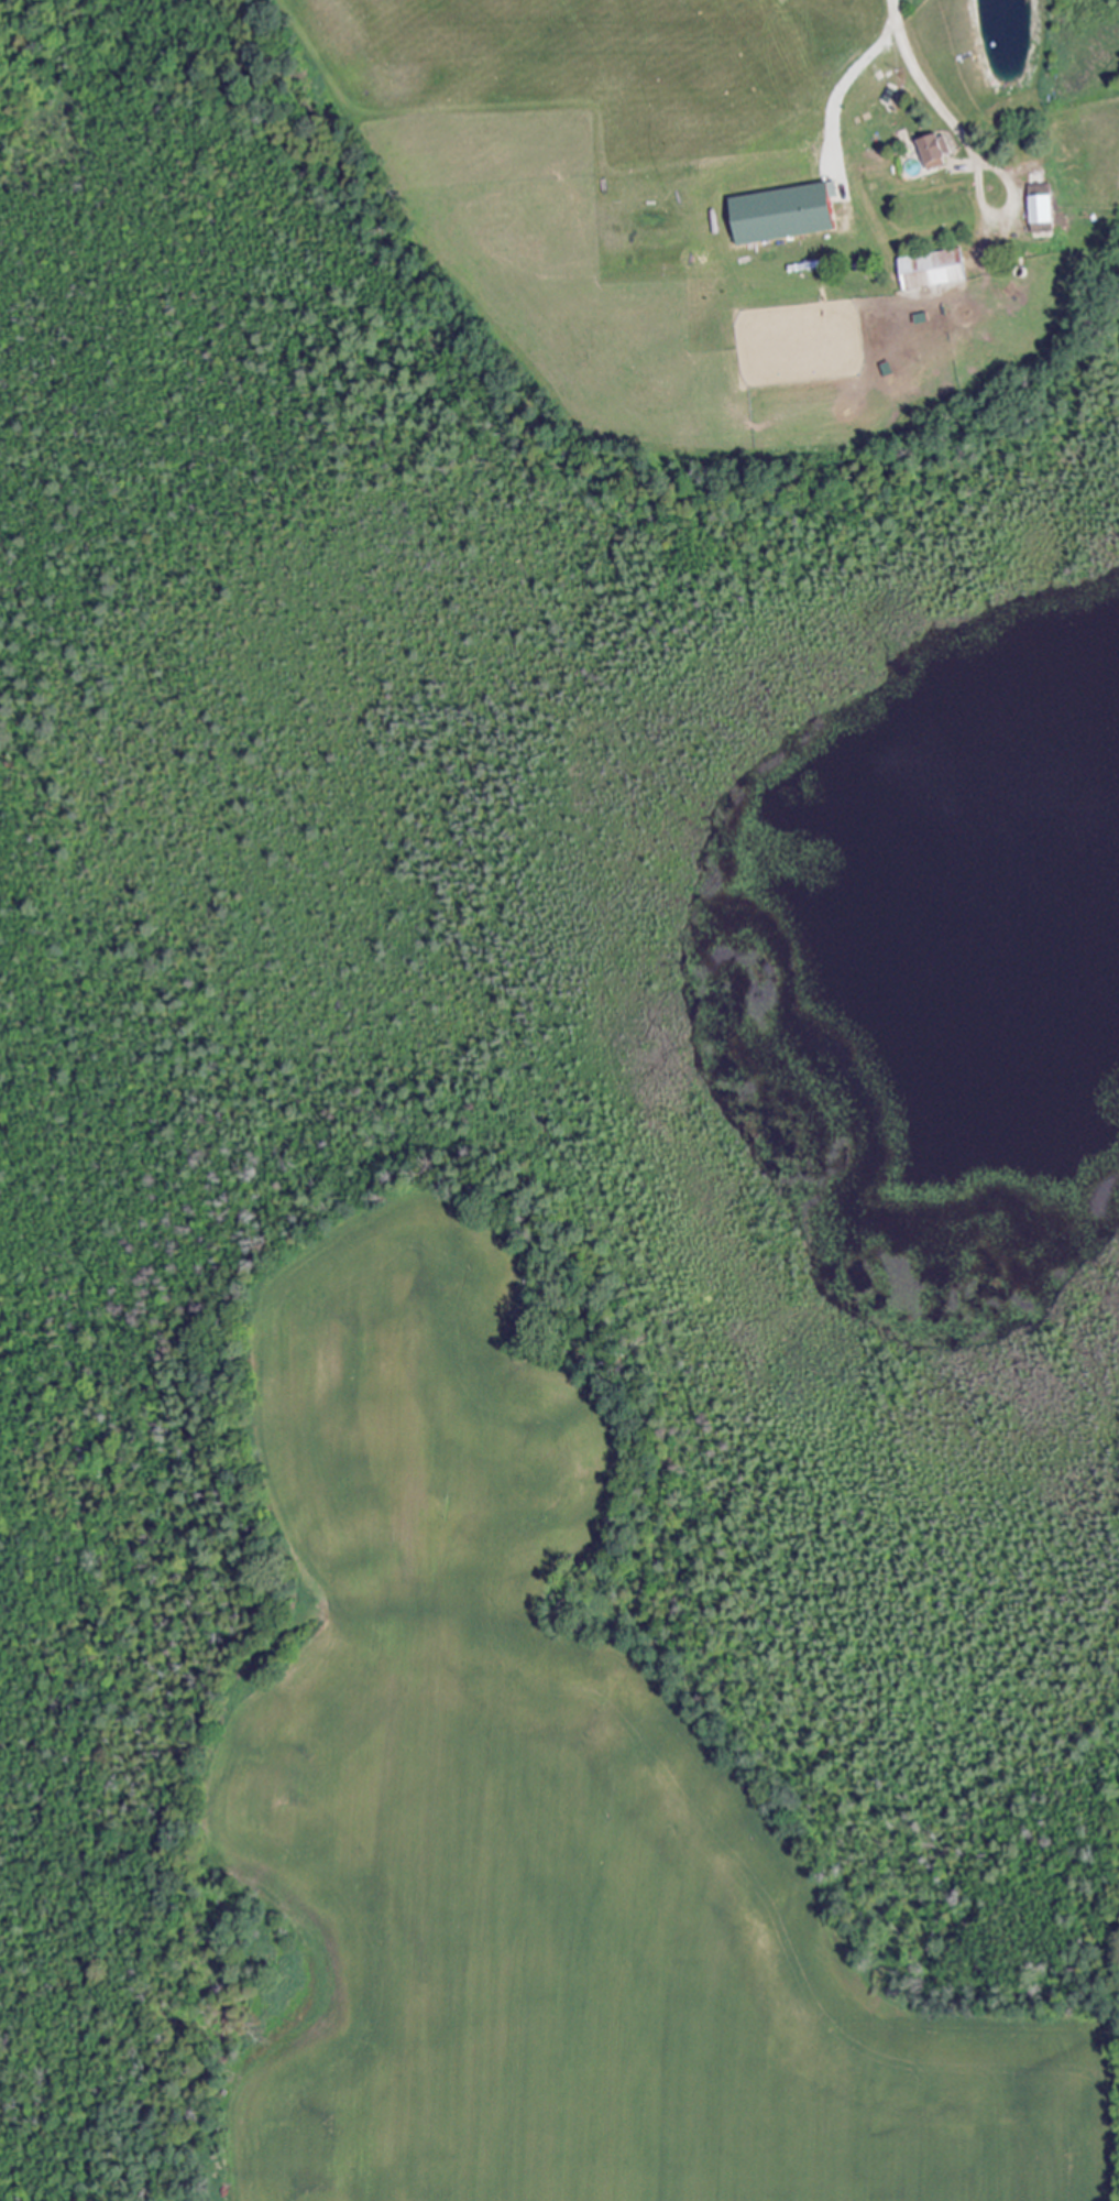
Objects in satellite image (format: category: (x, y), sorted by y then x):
road: (925, 83)
building: (930, 150)
building: (1036, 207)
building: (780, 214)
road: (1007, 218)
building: (930, 269)

